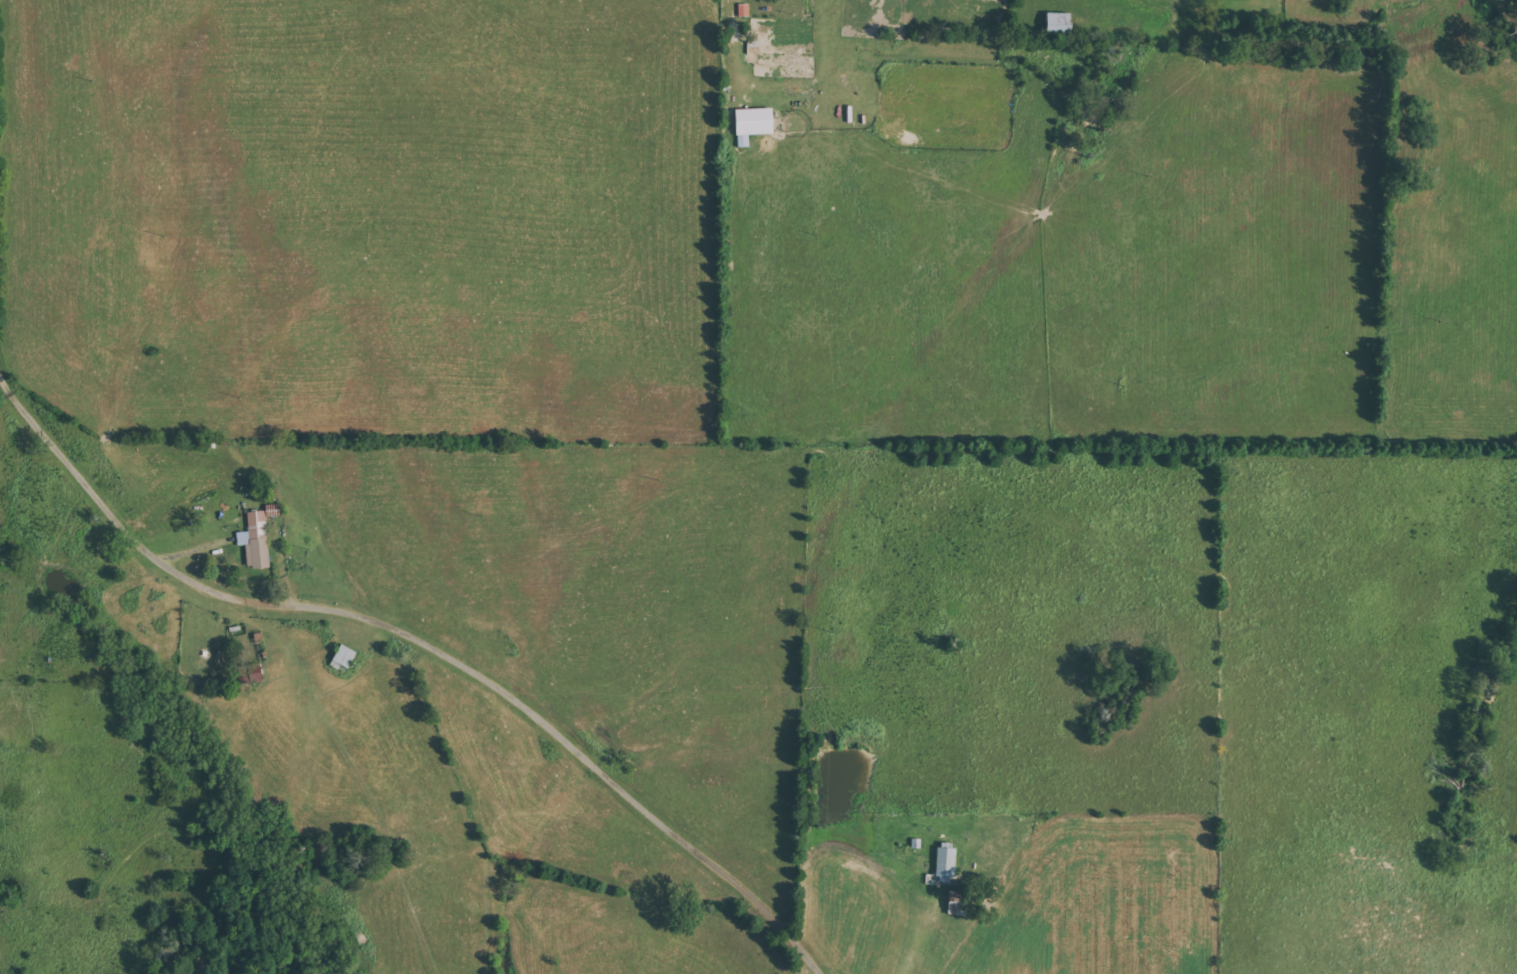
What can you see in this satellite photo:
building: (1061, 25)
building: (755, 123)
building: (274, 510)
building: (257, 540)
road: (421, 636)
building: (344, 657)
building: (251, 673)
building: (948, 860)
building: (960, 903)

